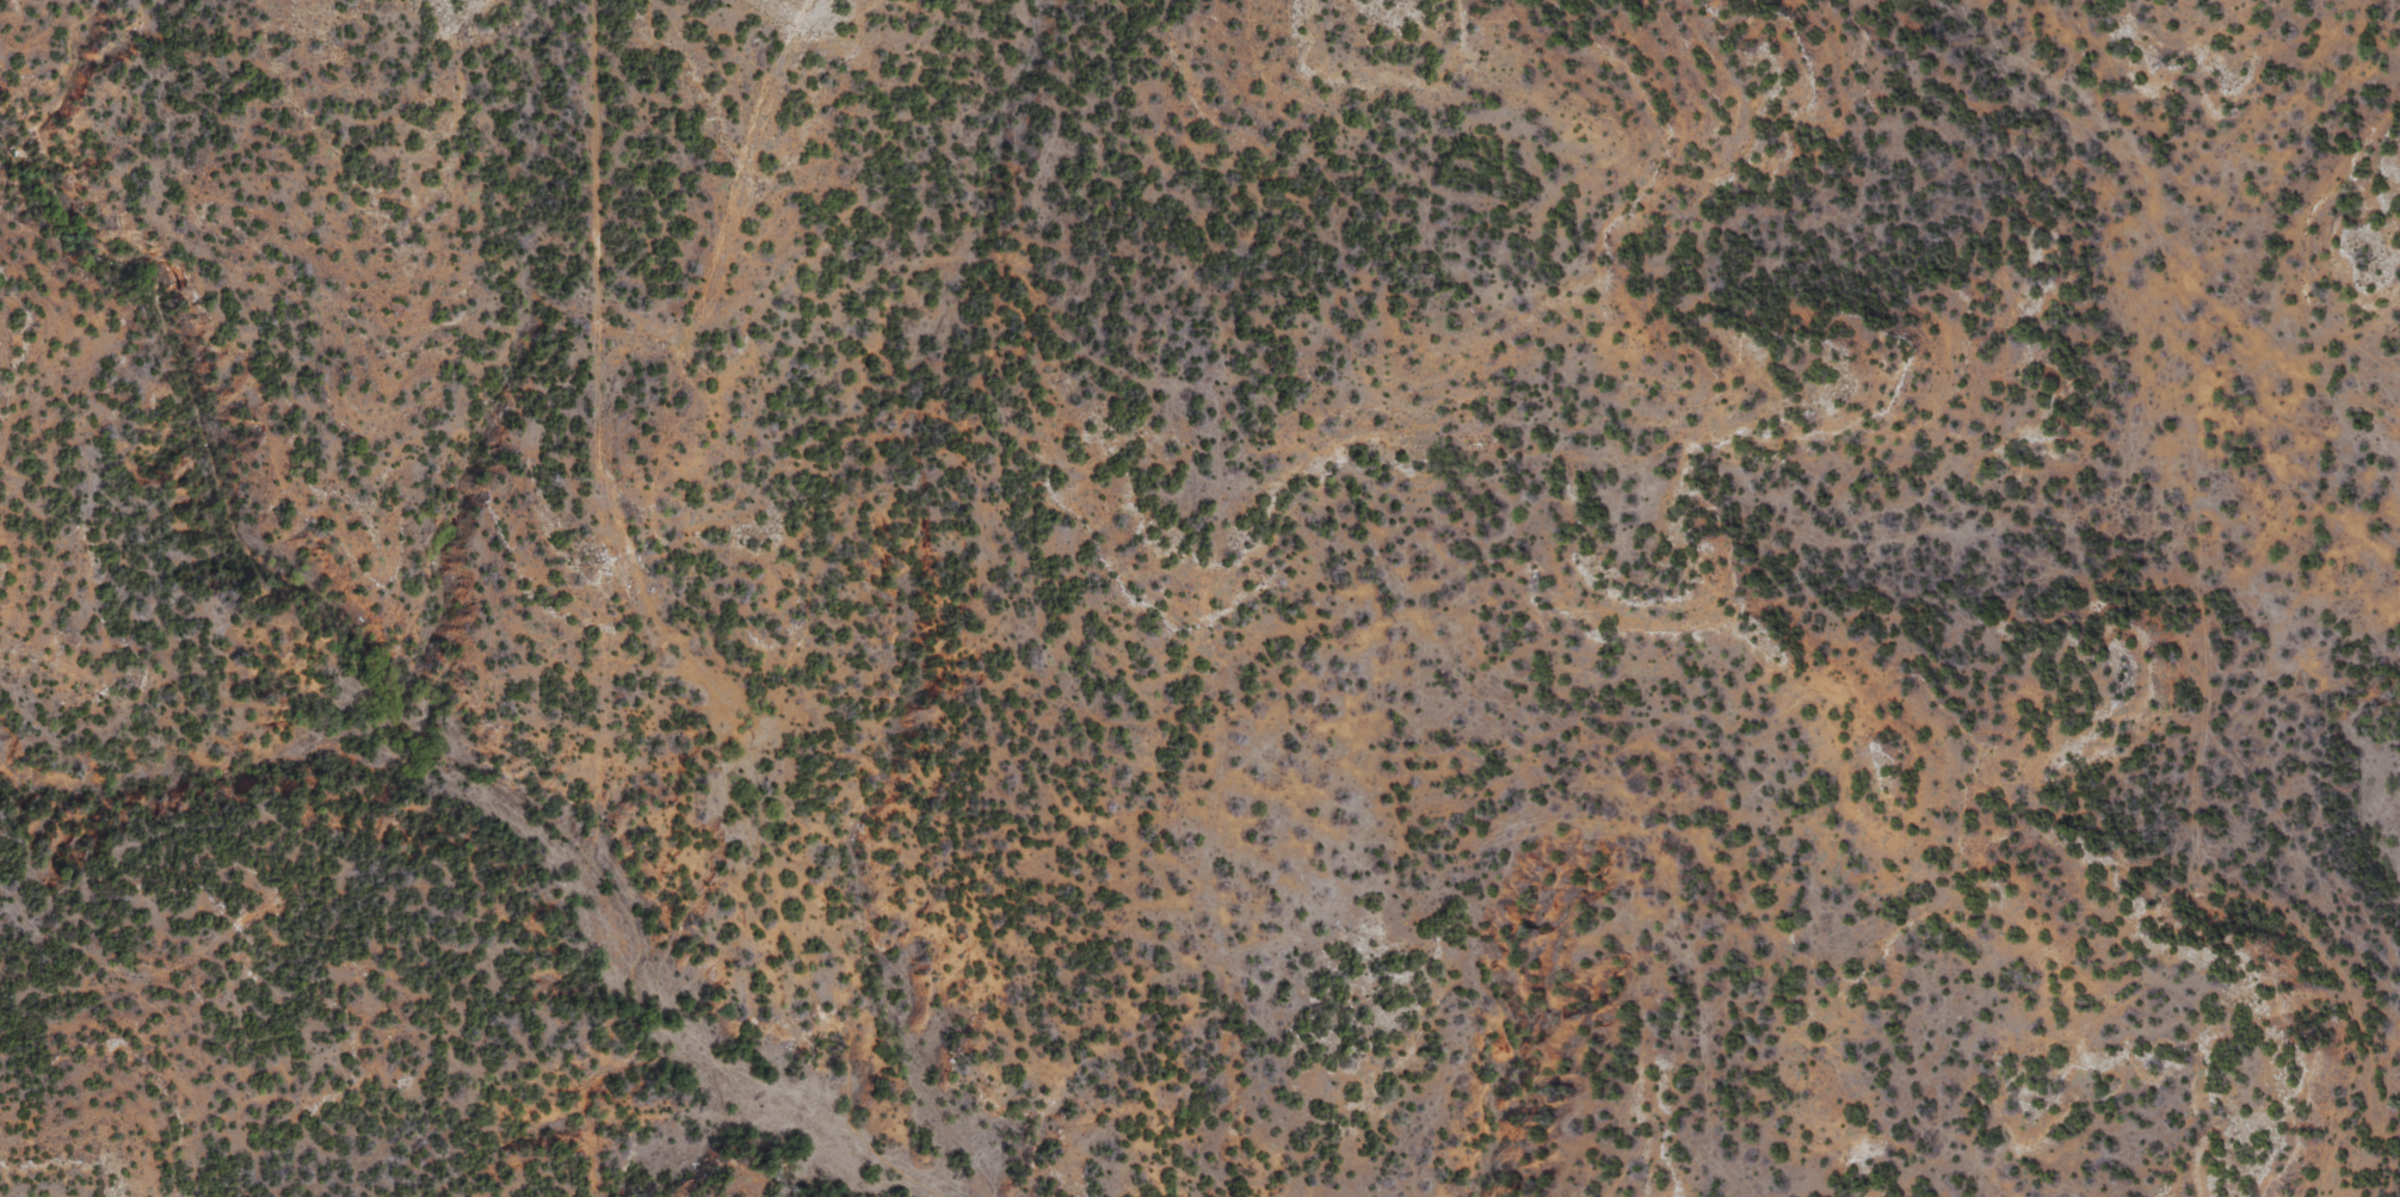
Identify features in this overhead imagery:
road: (2338, 266)

